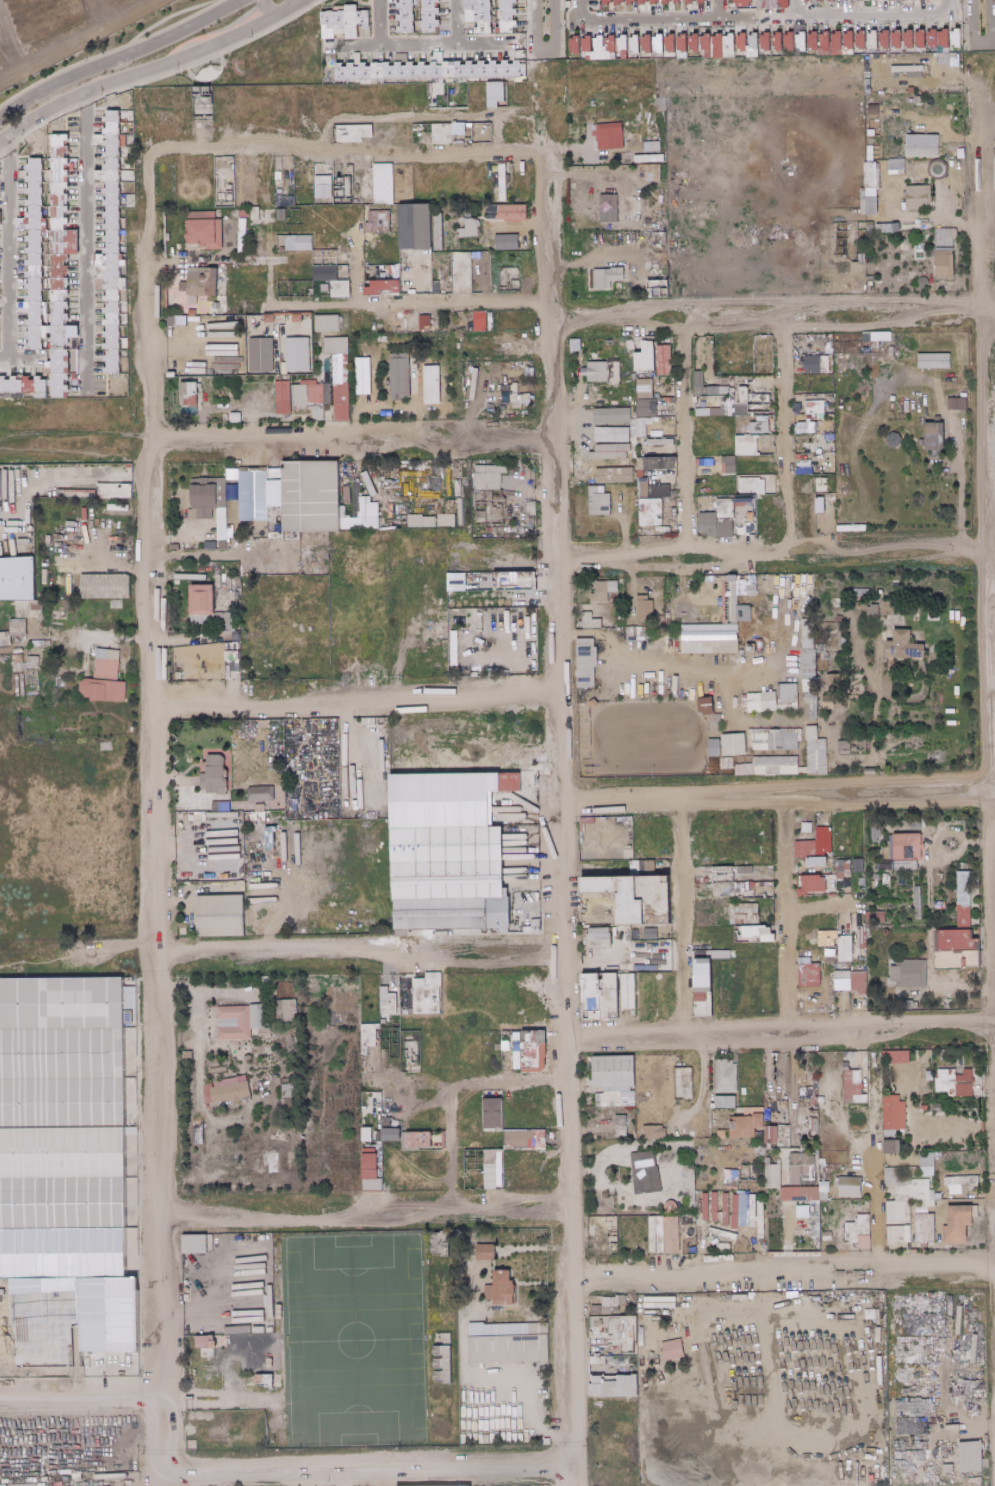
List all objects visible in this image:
park: (352, 1340)

